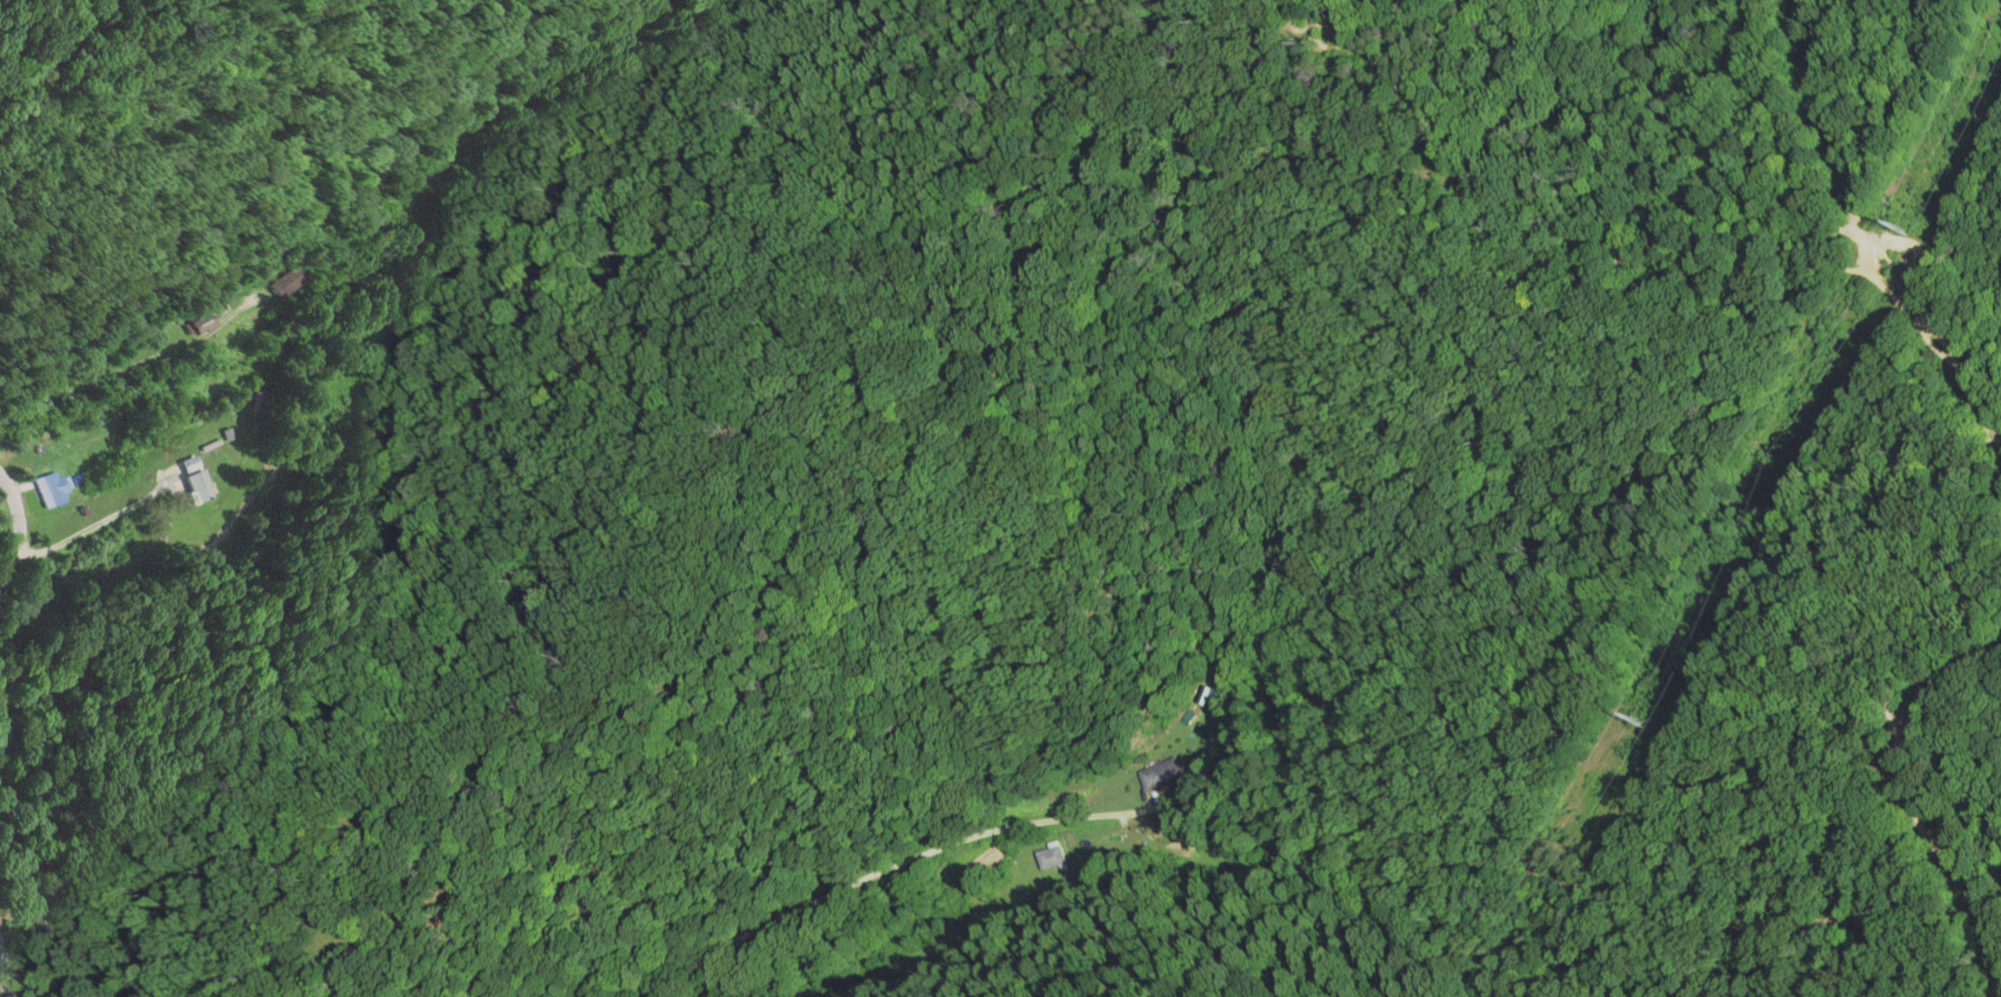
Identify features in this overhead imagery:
building: (289, 277)
road: (85, 380)
building: (201, 485)
building: (51, 489)
road: (3, 501)
road: (11, 533)
road: (1281, 699)
building: (1166, 775)
road: (5, 974)

